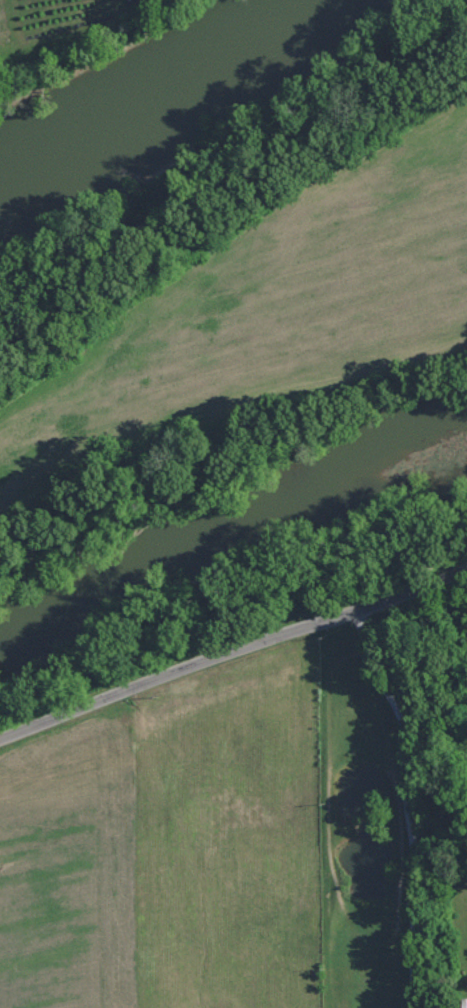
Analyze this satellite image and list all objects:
river: (165, 77)
river: (231, 541)
road: (231, 639)
road: (405, 800)

